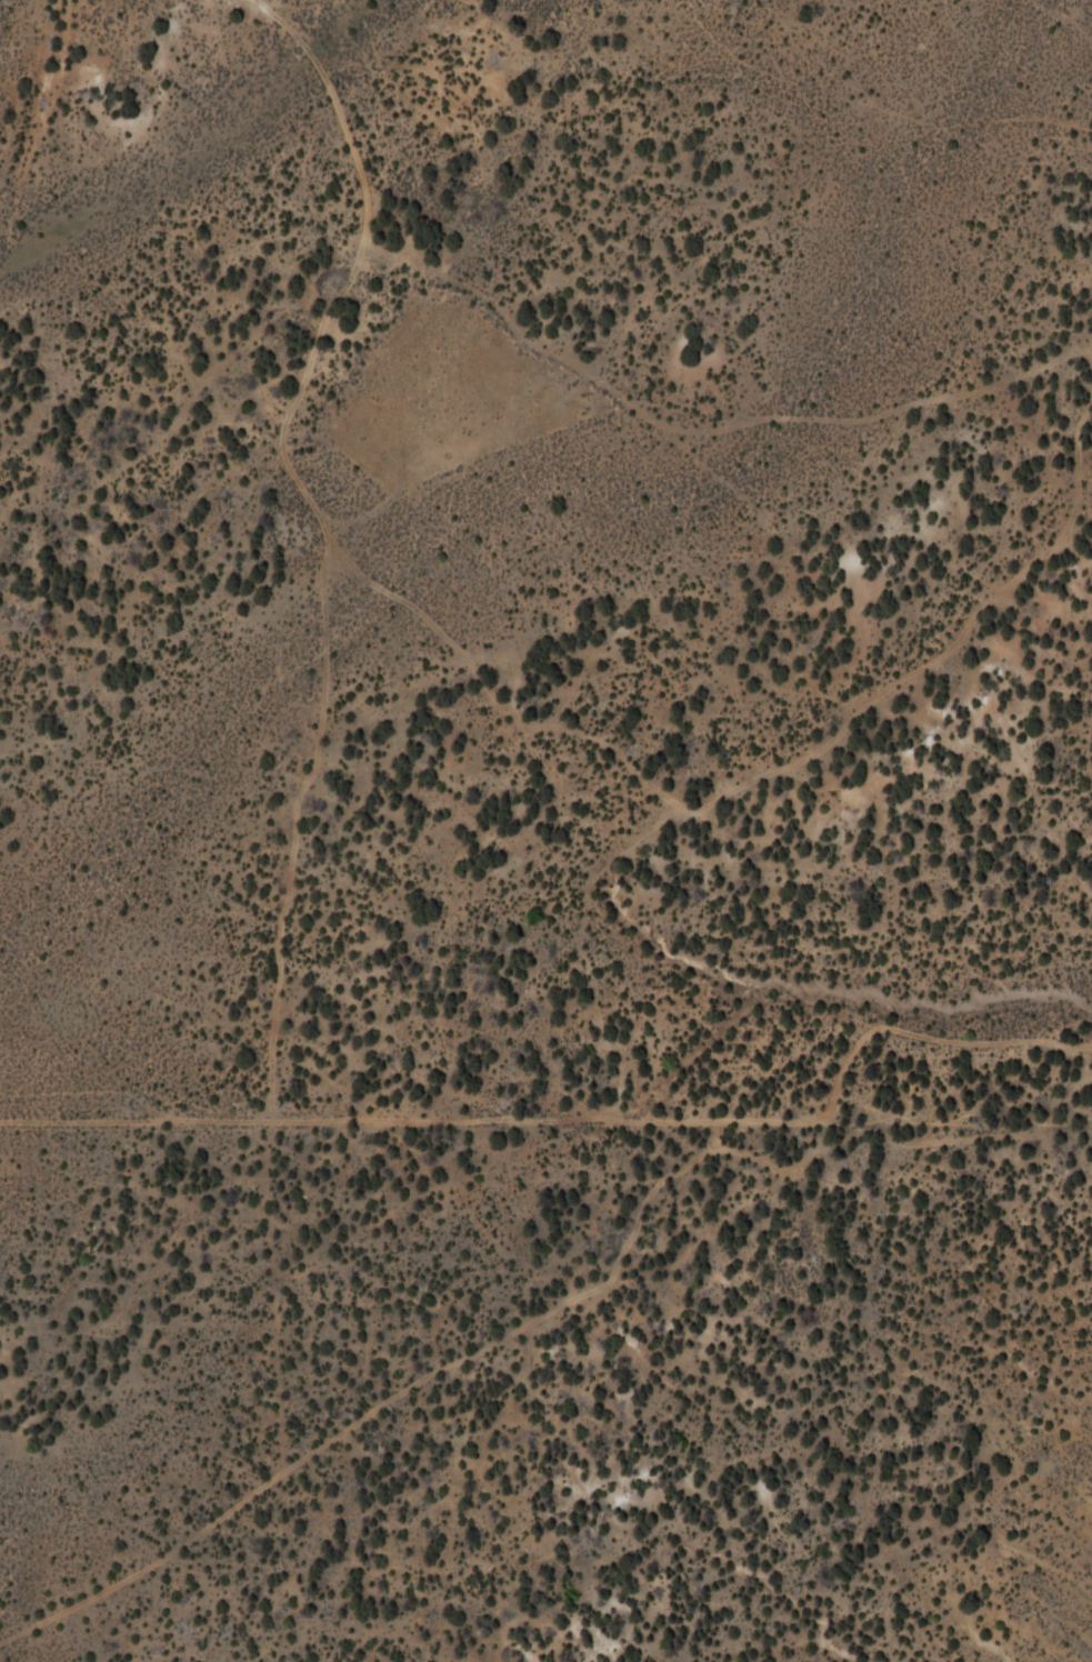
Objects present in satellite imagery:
road: (38, 127)
road: (545, 1312)

